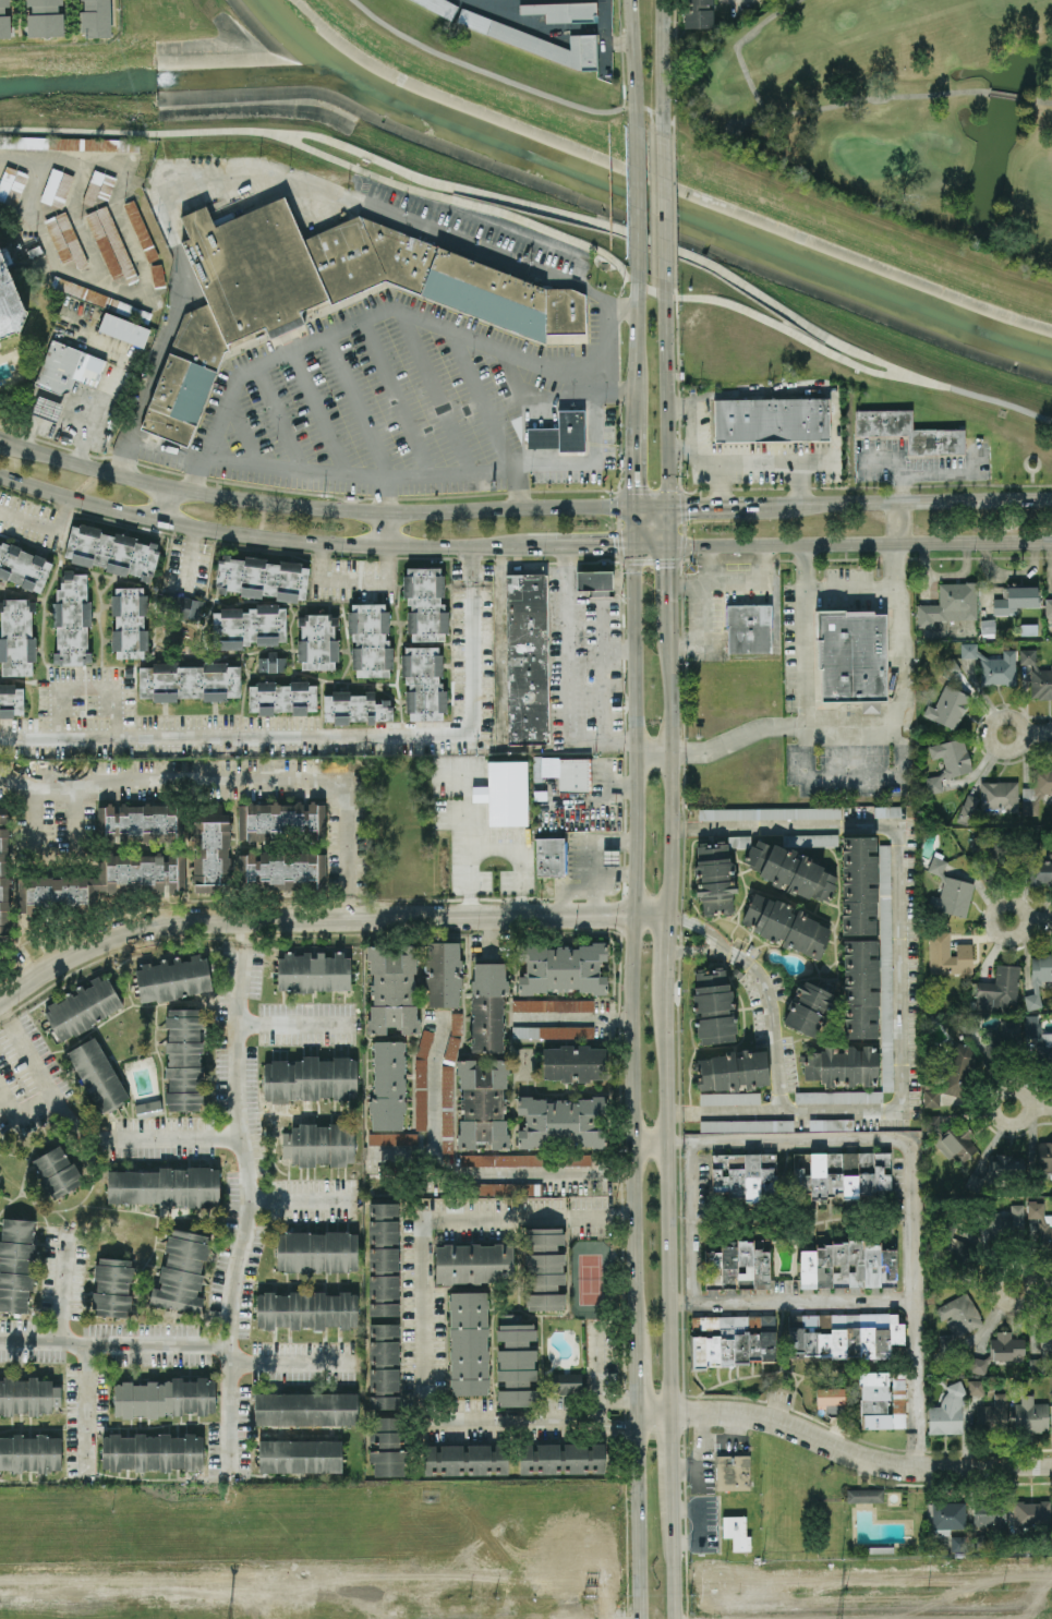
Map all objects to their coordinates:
road: (737, 2)
building: (439, 5)
building: (561, 10)
building: (698, 13)
building: (44, 17)
building: (95, 17)
building: (4, 20)
road: (533, 25)
river: (290, 34)
road: (605, 37)
building: (536, 39)
road: (619, 41)
road: (633, 53)
road: (662, 59)
river: (158, 75)
road: (505, 78)
park: (349, 107)
park: (896, 108)
building: (62, 143)
road: (59, 157)
road: (232, 170)
building: (11, 183)
road: (638, 189)
road: (475, 192)
road: (454, 197)
road: (664, 198)
road: (652, 201)
road: (458, 214)
river: (682, 214)
building: (141, 230)
building: (64, 239)
building: (109, 243)
road: (499, 257)
building: (157, 274)
road: (652, 280)
road: (637, 285)
building: (322, 292)
park: (853, 293)
building: (9, 302)
road: (354, 322)
building: (123, 329)
road: (787, 330)
road: (606, 346)
road: (639, 349)
road: (157, 359)
building: (66, 367)
road: (549, 391)
road: (442, 392)
road: (666, 392)
road: (400, 397)
road: (479, 397)
road: (987, 398)
road: (361, 406)
building: (46, 408)
gas station: (47, 408)
road: (523, 411)
road: (321, 412)
road: (281, 418)
road: (692, 420)
building: (771, 420)
road: (62, 425)
road: (243, 431)
road: (542, 431)
building: (909, 431)
building: (560, 432)
road: (1030, 456)
road: (751, 458)
road: (592, 460)
road: (639, 468)
road: (321, 473)
road: (927, 473)
road: (717, 483)
road: (796, 483)
road: (1031, 487)
road: (898, 490)
road: (384, 494)
road: (899, 504)
road: (164, 505)
road: (315, 506)
traffic signals: (639, 508)
road: (653, 508)
traffic signals: (667, 508)
road: (708, 508)
road: (896, 523)
road: (639, 525)
road: (667, 527)
road: (43, 528)
road: (383, 528)
road: (266, 536)
road: (859, 543)
road: (589, 544)
traffic signals: (639, 544)
road: (653, 544)
traffic signals: (667, 545)
building: (111, 551)
road: (188, 555)
road: (760, 563)
road: (708, 564)
building: (23, 567)
building: (262, 577)
road: (348, 580)
road: (714, 581)
building: (594, 582)
road: (668, 582)
road: (850, 591)
building: (1015, 597)
building: (425, 603)
building: (951, 603)
building: (181, 606)
building: (1048, 606)
building: (71, 620)
building: (129, 621)
building: (250, 626)
building: (749, 627)
road: (703, 628)
building: (1028, 628)
road: (805, 636)
building: (16, 637)
building: (370, 640)
road: (473, 640)
building: (317, 641)
road: (619, 652)
building: (854, 656)
building: (528, 659)
building: (271, 662)
building: (993, 665)
building: (951, 666)
road: (602, 672)
building: (1037, 675)
road: (565, 677)
building: (190, 680)
building: (423, 684)
road: (87, 687)
building: (281, 697)
building: (11, 700)
building: (354, 706)
building: (948, 706)
road: (871, 726)
road: (637, 728)
road: (1038, 733)
road: (235, 736)
road: (988, 745)
road: (653, 752)
building: (948, 761)
road: (669, 768)
road: (247, 770)
building: (575, 773)
building: (1036, 789)
building: (504, 792)
building: (991, 799)
building: (887, 810)
building: (770, 812)
building: (136, 820)
building: (280, 820)
road: (468, 830)
building: (810, 838)
building: (739, 841)
building: (992, 846)
building: (210, 848)
road: (491, 848)
road: (589, 851)
building: (551, 856)
building: (610, 857)
road: (55, 859)
building: (1038, 861)
building: (790, 870)
building: (281, 871)
building: (4, 874)
road: (612, 874)
building: (714, 878)
building: (105, 881)
building: (858, 882)
building: (950, 889)
road: (323, 916)
road: (1039, 920)
building: (786, 923)
road: (698, 925)
road: (1007, 938)
road: (666, 943)
road: (693, 951)
building: (948, 954)
road: (902, 964)
building: (885, 965)
building: (561, 968)
road: (246, 969)
building: (313, 971)
building: (443, 972)
building: (173, 978)
building: (1038, 978)
building: (859, 986)
building: (391, 988)
building: (999, 988)
building: (553, 1004)
building: (487, 1005)
building: (713, 1005)
building: (809, 1005)
building: (83, 1007)
road: (568, 1019)
road: (621, 1020)
road: (766, 1020)
road: (302, 1022)
building: (968, 1026)
building: (553, 1031)
building: (1003, 1036)
building: (1039, 1038)
road: (32, 1047)
building: (183, 1059)
building: (575, 1062)
building: (843, 1064)
building: (731, 1067)
building: (953, 1074)
building: (97, 1075)
building: (421, 1077)
building: (310, 1078)
building: (387, 1085)
building: (730, 1098)
building: (482, 1103)
road: (1039, 1105)
building: (148, 1108)
road: (75, 1114)
road: (23, 1115)
building: (446, 1116)
building: (563, 1121)
road: (992, 1121)
building: (747, 1124)
building: (831, 1124)
road: (632, 1129)
road: (168, 1133)
road: (918, 1134)
building: (952, 1136)
building: (392, 1138)
road: (650, 1141)
building: (318, 1144)
building: (575, 1159)
building: (501, 1160)
building: (1041, 1165)
road: (440, 1168)
building: (56, 1171)
building: (996, 1171)
road: (613, 1173)
building: (743, 1173)
building: (843, 1177)
building: (166, 1186)
building: (504, 1188)
road: (667, 1191)
road: (304, 1197)
road: (601, 1216)
building: (1003, 1222)
building: (1041, 1224)
road: (244, 1242)
building: (952, 1248)
building: (316, 1251)
road: (430, 1255)
building: (473, 1262)
building: (16, 1264)
building: (850, 1265)
building: (739, 1266)
building: (544, 1268)
building: (181, 1271)
building: (111, 1285)
road: (1040, 1286)
road: (995, 1295)
road: (66, 1304)
building: (306, 1309)
building: (959, 1313)
building: (844, 1334)
building: (1040, 1339)
building: (384, 1340)
building: (731, 1340)
building: (468, 1342)
building: (946, 1342)
road: (171, 1348)
building: (1000, 1351)
building: (1041, 1355)
building: (516, 1362)
road: (596, 1368)
road: (634, 1379)
building: (565, 1382)
road: (921, 1384)
building: (976, 1386)
building: (27, 1396)
building: (831, 1396)
building: (165, 1398)
building: (882, 1399)
building: (305, 1407)
building: (1028, 1410)
road: (653, 1411)
building: (947, 1411)
road: (612, 1413)
building: (993, 1414)
road: (511, 1418)
road: (729, 1439)
road: (699, 1448)
building: (152, 1451)
building: (29, 1452)
building: (300, 1455)
building: (561, 1457)
building: (464, 1458)
road: (673, 1458)
road: (858, 1458)
building: (734, 1472)
building: (866, 1495)
building: (989, 1513)
road: (634, 1515)
building: (1028, 1519)
building: (950, 1522)
road: (700, 1523)
building: (736, 1532)
building: (978, 1541)
road: (674, 1562)

